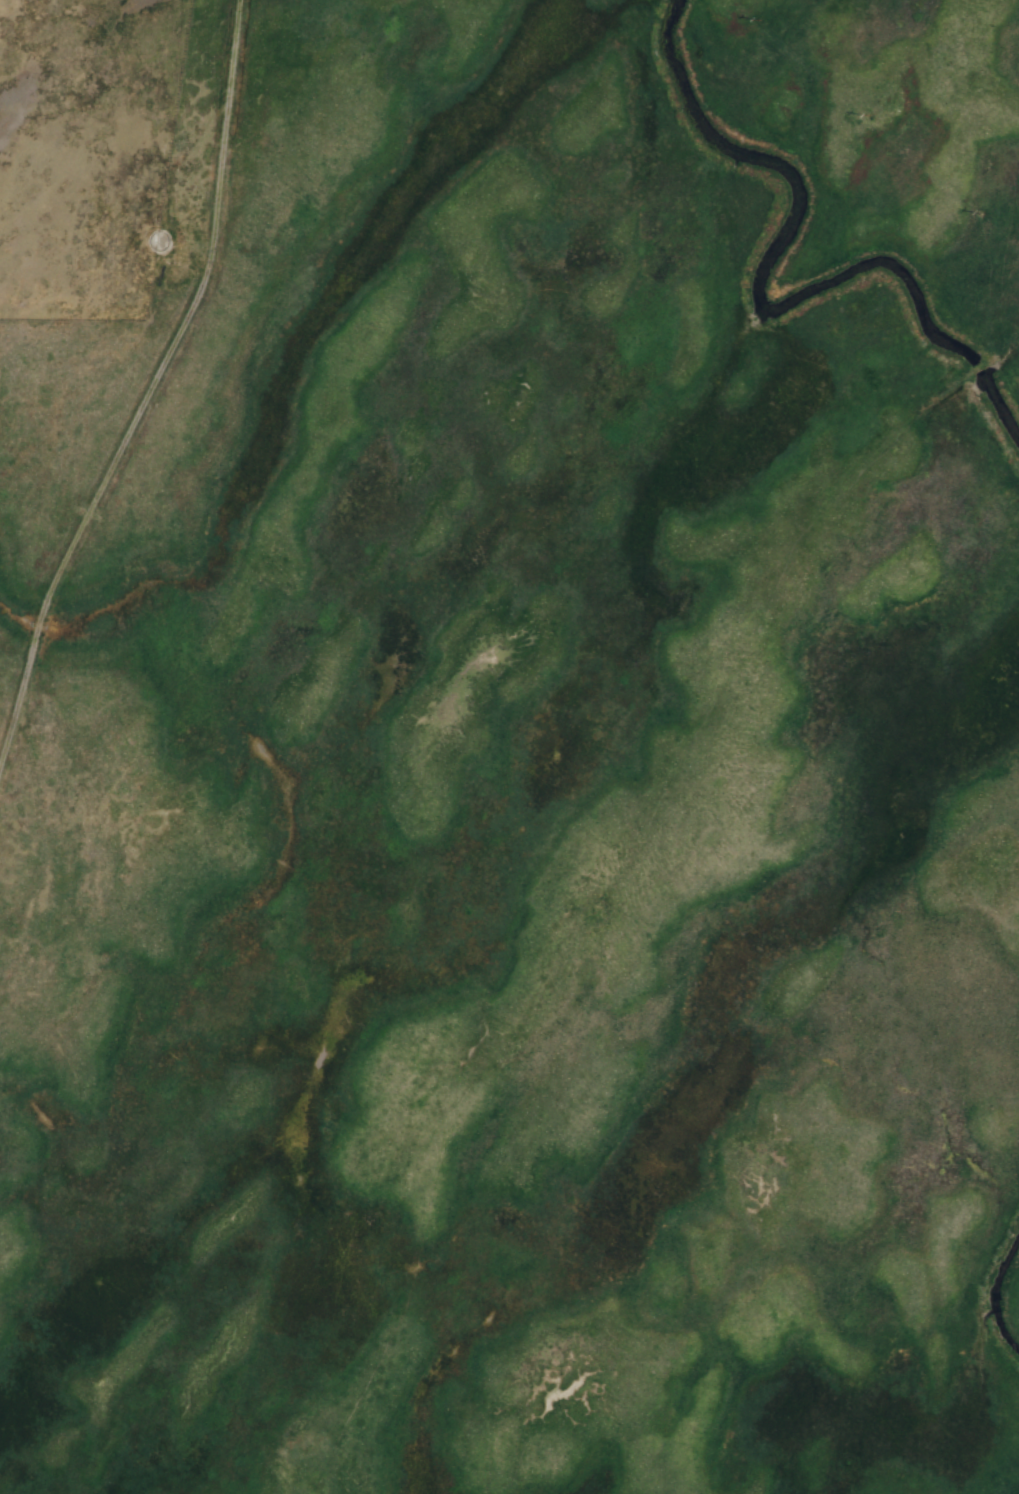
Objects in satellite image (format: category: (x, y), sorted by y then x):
road: (145, 357)
crop: (474, 703)
crop: (998, 997)
crop: (1003, 1370)

